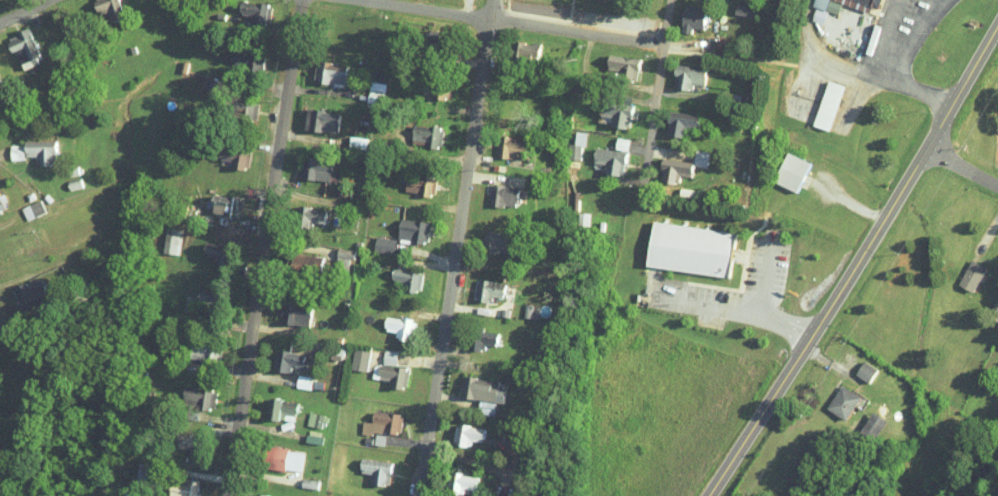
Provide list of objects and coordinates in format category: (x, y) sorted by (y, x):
building: (869, 1)
building: (828, 5)
road: (466, 7)
road: (938, 7)
building: (107, 10)
road: (23, 11)
building: (253, 11)
building: (744, 11)
road: (571, 14)
building: (692, 18)
road: (516, 21)
road: (256, 25)
road: (923, 28)
road: (883, 38)
road: (686, 41)
building: (23, 48)
building: (526, 50)
building: (396, 52)
road: (729, 56)
road: (461, 57)
road: (808, 59)
building: (241, 60)
building: (622, 65)
road: (855, 72)
building: (330, 73)
road: (658, 74)
building: (687, 79)
road: (262, 83)
road: (322, 91)
road: (656, 94)
building: (830, 105)
road: (456, 110)
building: (684, 115)
building: (617, 116)
road: (653, 116)
building: (322, 122)
building: (680, 126)
building: (426, 135)
road: (299, 137)
building: (575, 147)
road: (266, 148)
building: (509, 148)
building: (40, 151)
building: (15, 152)
road: (3, 154)
building: (611, 157)
building: (234, 158)
road: (444, 158)
road: (479, 159)
road: (989, 161)
road: (647, 163)
road: (961, 165)
building: (680, 167)
building: (317, 170)
building: (793, 171)
road: (493, 178)
building: (419, 185)
road: (306, 196)
building: (504, 196)
road: (434, 204)
building: (1, 206)
building: (225, 207)
building: (31, 210)
building: (312, 215)
road: (3, 221)
building: (413, 231)
building: (498, 240)
building: (383, 245)
road: (299, 246)
road: (265, 248)
road: (456, 248)
building: (692, 249)
building: (25, 254)
building: (216, 255)
road: (435, 257)
building: (342, 258)
road: (856, 261)
road: (429, 264)
building: (304, 265)
road: (764, 275)
building: (971, 276)
building: (408, 279)
building: (488, 290)
building: (29, 294)
building: (206, 300)
road: (470, 306)
road: (736, 309)
building: (294, 315)
road: (232, 321)
road: (278, 328)
building: (399, 328)
road: (1, 330)
building: (485, 339)
road: (451, 350)
building: (199, 352)
road: (821, 356)
building: (287, 360)
building: (359, 360)
road: (421, 360)
road: (452, 365)
road: (223, 369)
building: (392, 370)
building: (865, 371)
road: (269, 376)
building: (303, 382)
building: (480, 393)
building: (198, 397)
road: (446, 398)
building: (842, 402)
building: (281, 409)
road: (220, 420)
building: (315, 420)
building: (381, 426)
building: (875, 426)
road: (258, 427)
road: (225, 432)
building: (466, 435)
building: (313, 440)
road: (409, 441)
building: (192, 444)
building: (283, 460)
building: (375, 471)
road: (202, 476)
road: (264, 476)
building: (142, 478)
building: (461, 483)
building: (184, 488)
building: (258, 495)

